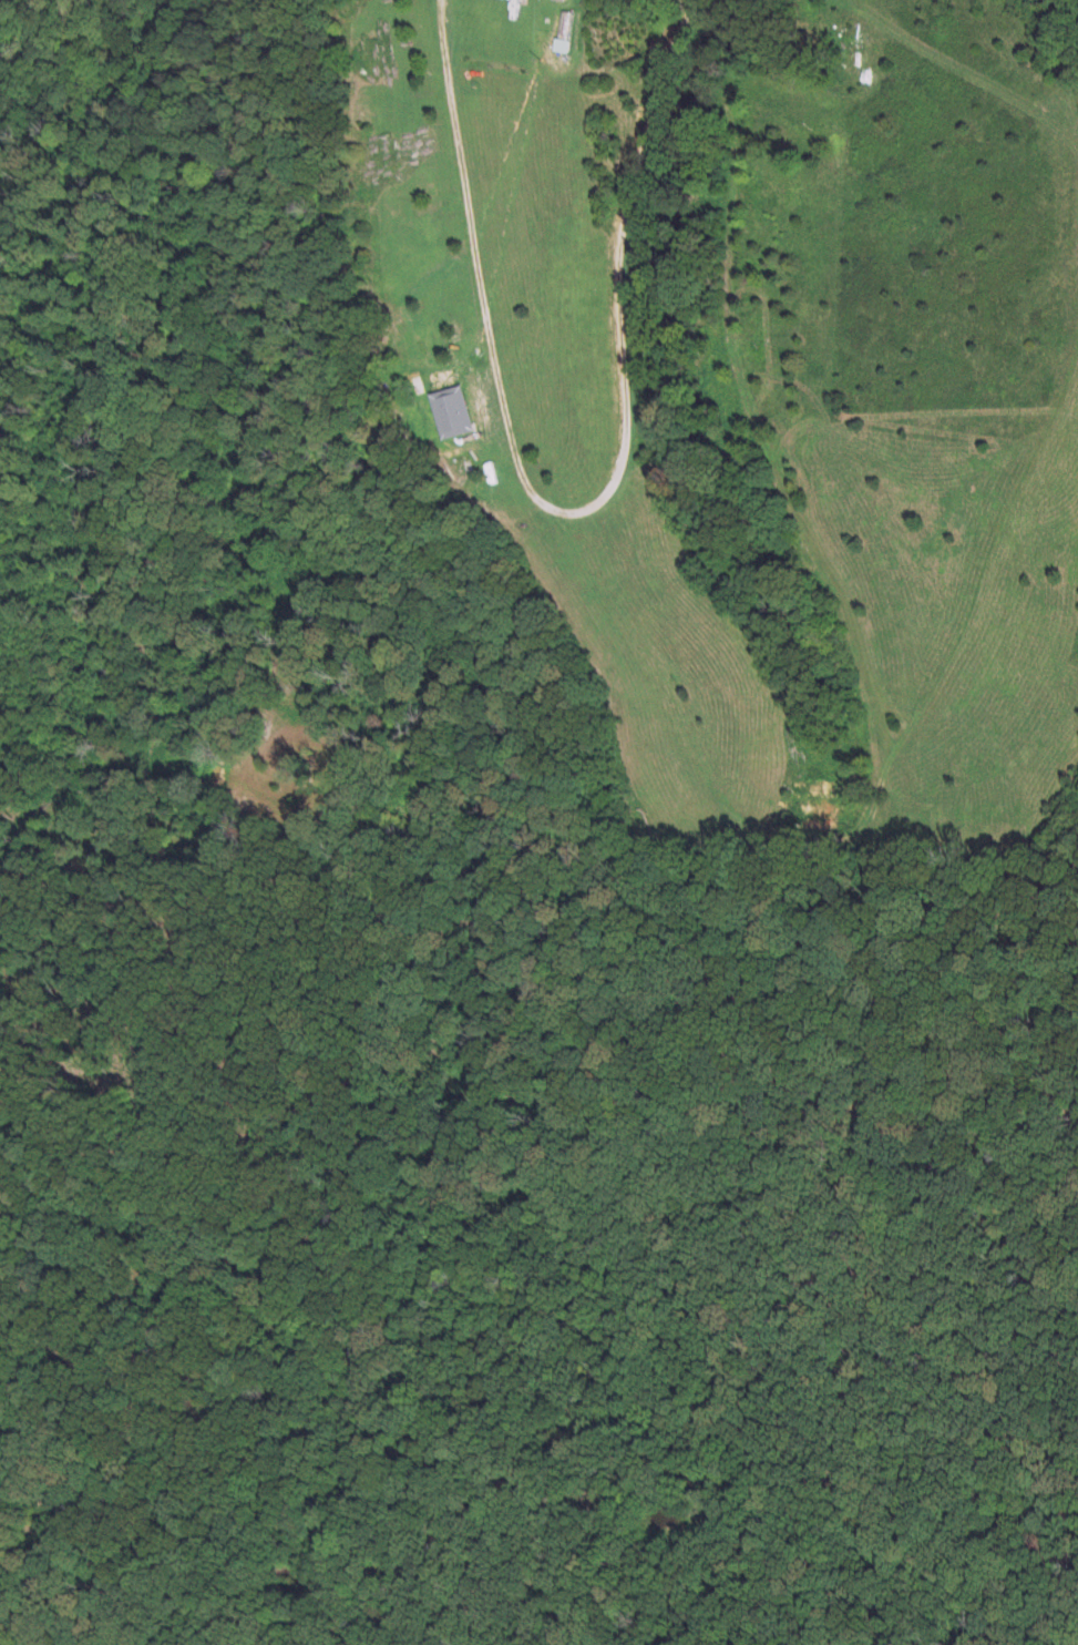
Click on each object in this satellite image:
building: (558, 31)

